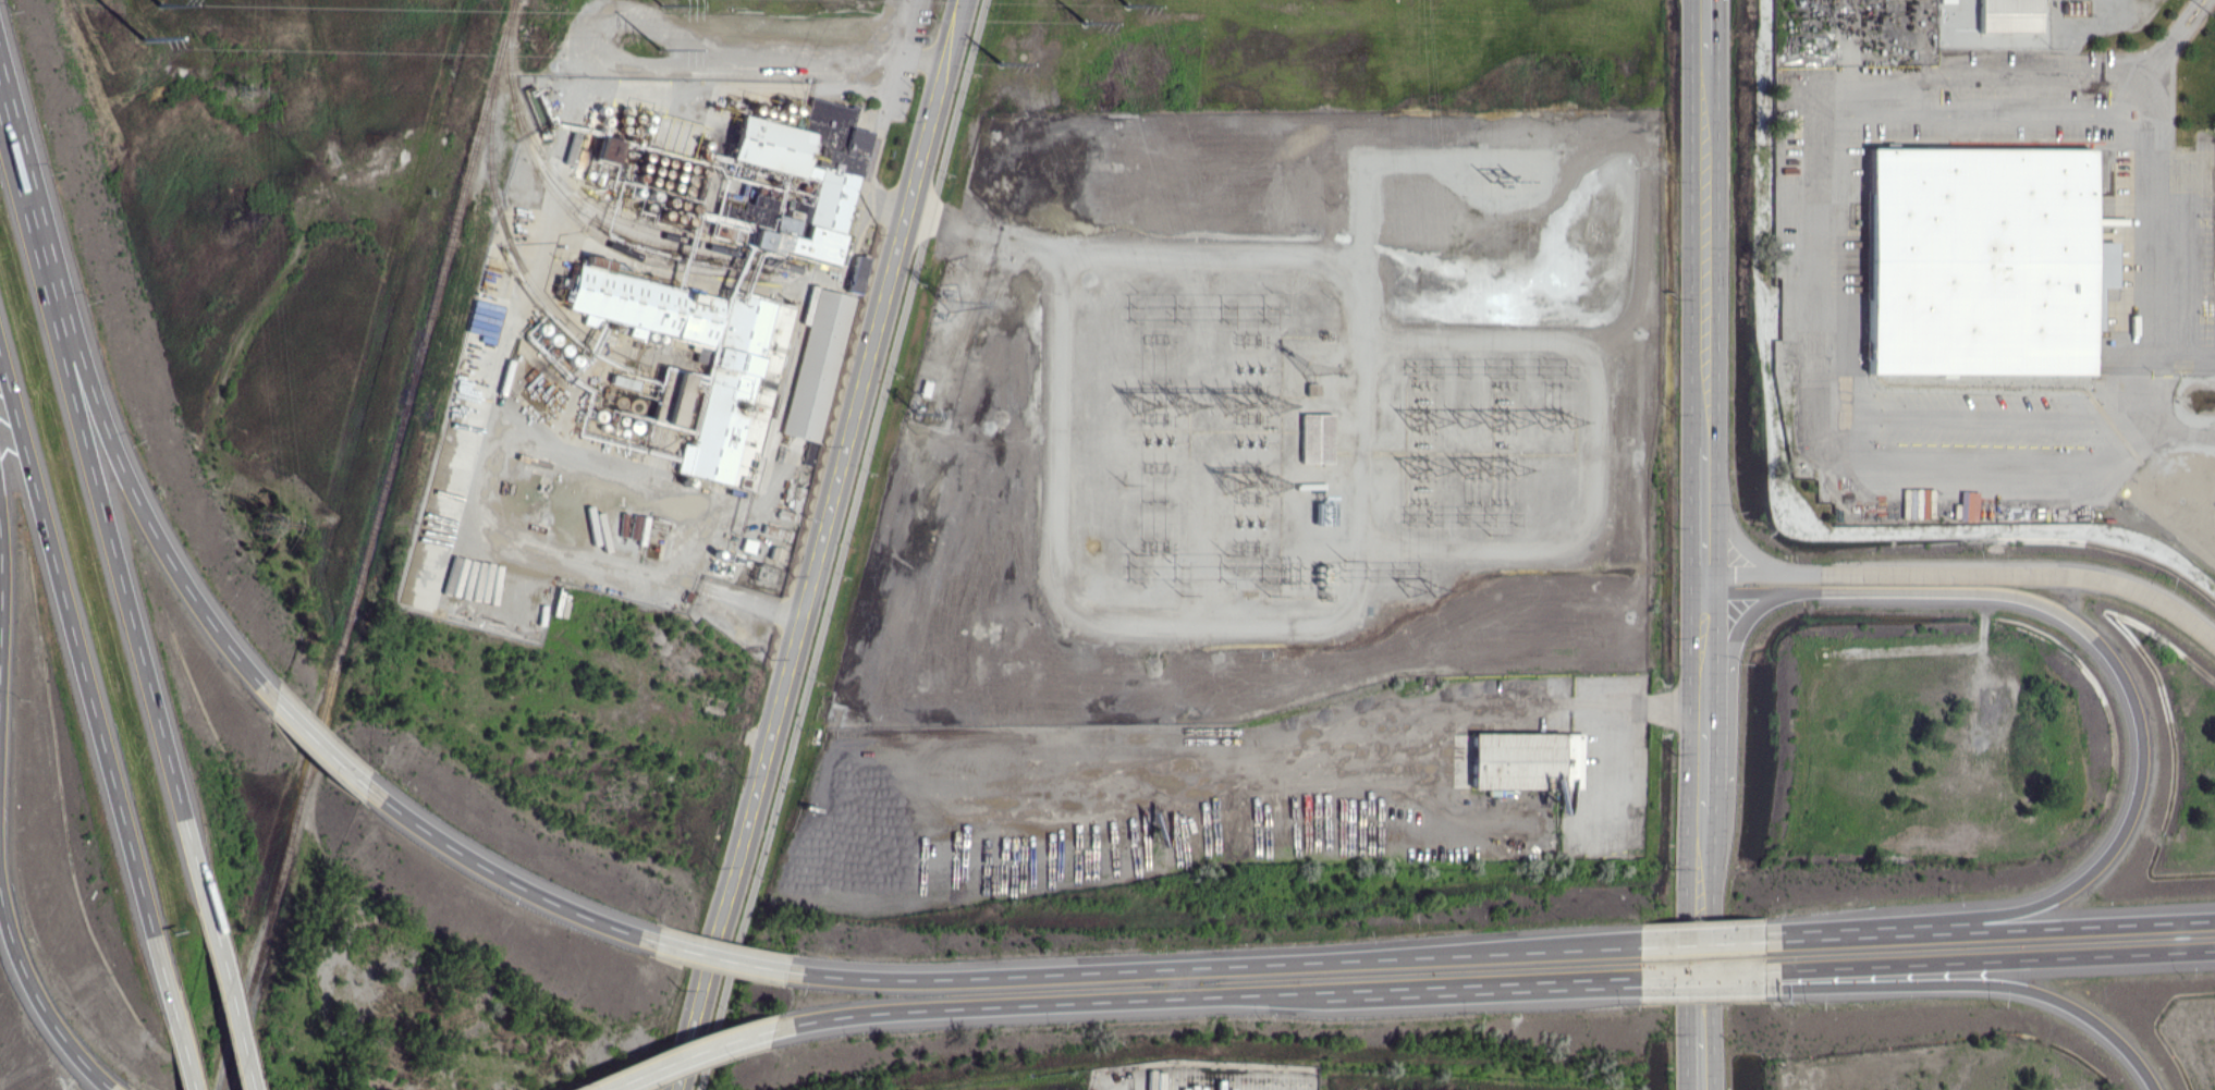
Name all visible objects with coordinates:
power tower: (662, 5)
power tower: (1128, 8)
power tower: (1086, 26)
road: (904, 32)
road: (1704, 34)
power tower: (147, 39)
power tower: (660, 52)
power tower: (1002, 63)
power tower: (247, 89)
road: (880, 128)
road: (2188, 176)
railway: (587, 201)
road: (2162, 218)
railway: (600, 234)
railway: (507, 235)
road: (1133, 249)
road: (1704, 253)
building: (1979, 264)
building: (739, 280)
road: (1828, 298)
building: (817, 365)
road: (101, 411)
road: (2174, 433)
building: (1315, 438)
power substation: (1297, 446)
road: (96, 485)
road: (1703, 514)
power tower: (272, 524)
road: (1737, 538)
railway: (372, 544)
road: (825, 544)
road: (842, 544)
road: (0, 571)
road: (1748, 575)
road: (2012, 575)
road: (1736, 641)
road: (1704, 650)
road: (79, 658)
road: (2136, 698)
road: (1620, 714)
road: (321, 749)
building: (1518, 761)
road: (1704, 770)
road: (499, 874)
road: (2016, 927)
road: (1703, 936)
road: (1790, 939)
road: (1702, 944)
road: (719, 958)
road: (1988, 960)
road: (1221, 965)
road: (1701, 975)
road: (1702, 979)
road: (224, 980)
road: (1981, 984)
road: (1215, 995)
road: (36, 1011)
road: (175, 1027)
road: (694, 1051)
road: (1702, 1066)
road: (100, 1089)

